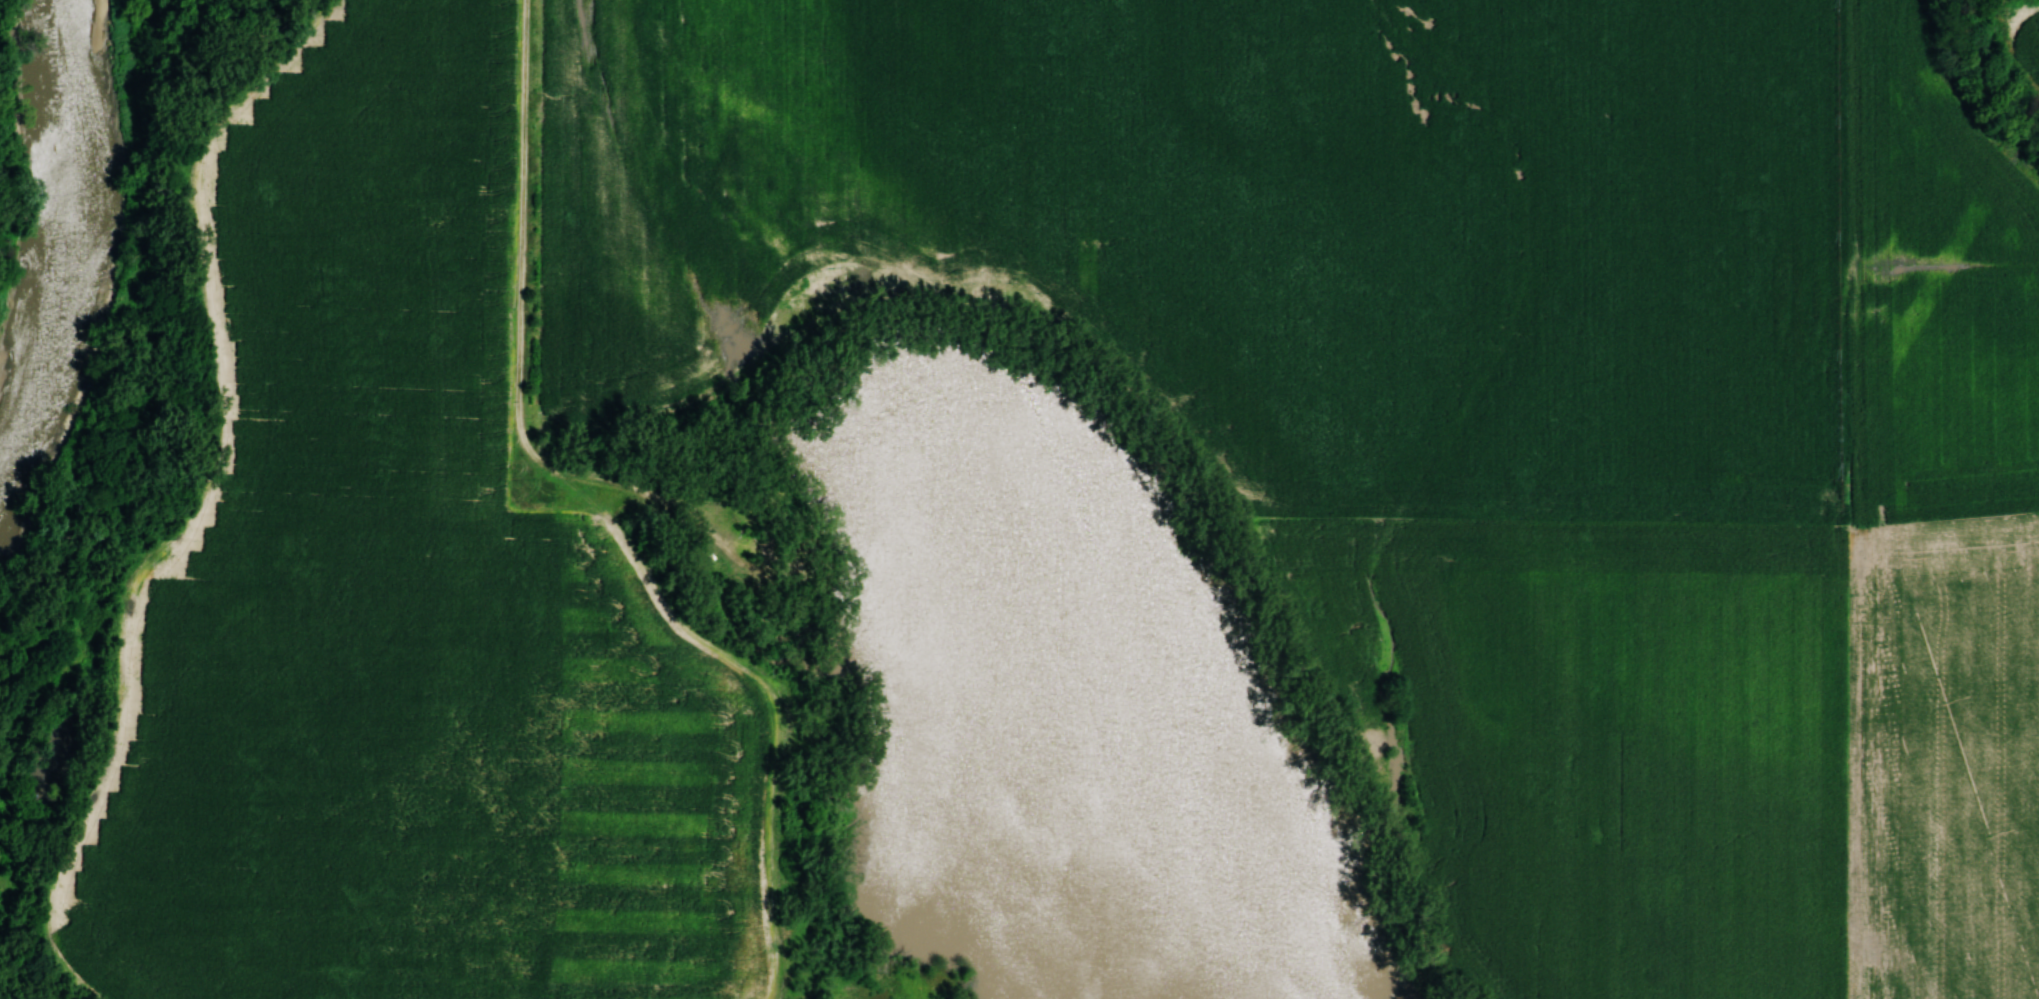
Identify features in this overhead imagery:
river: (60, 228)
road: (525, 318)

